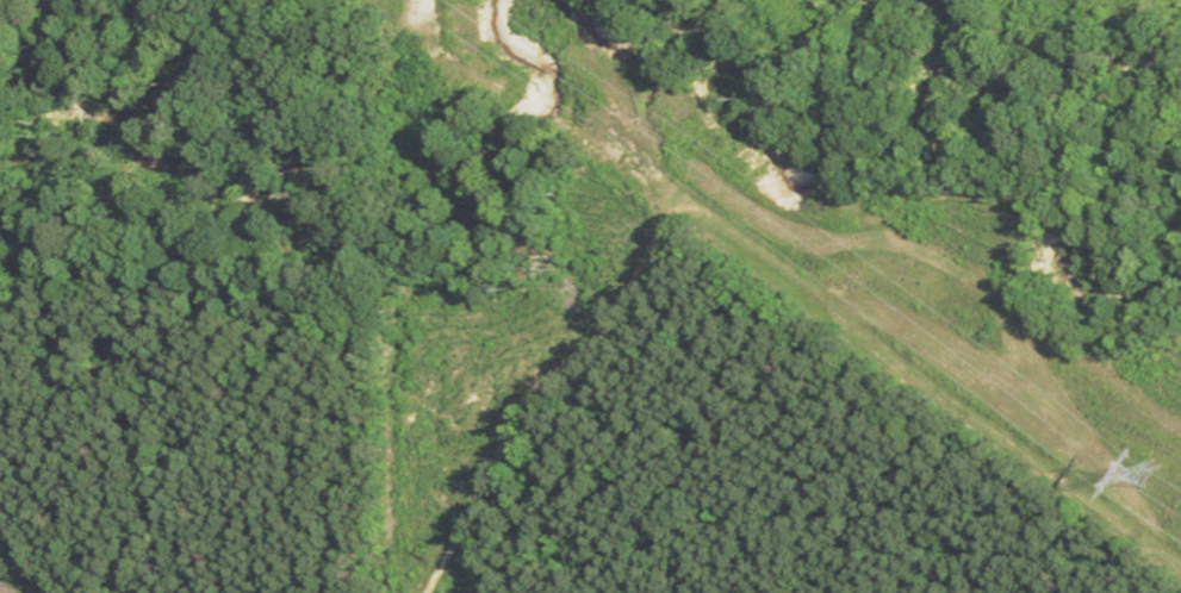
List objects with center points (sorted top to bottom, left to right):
power tower: (1149, 474)
road: (31, 547)

